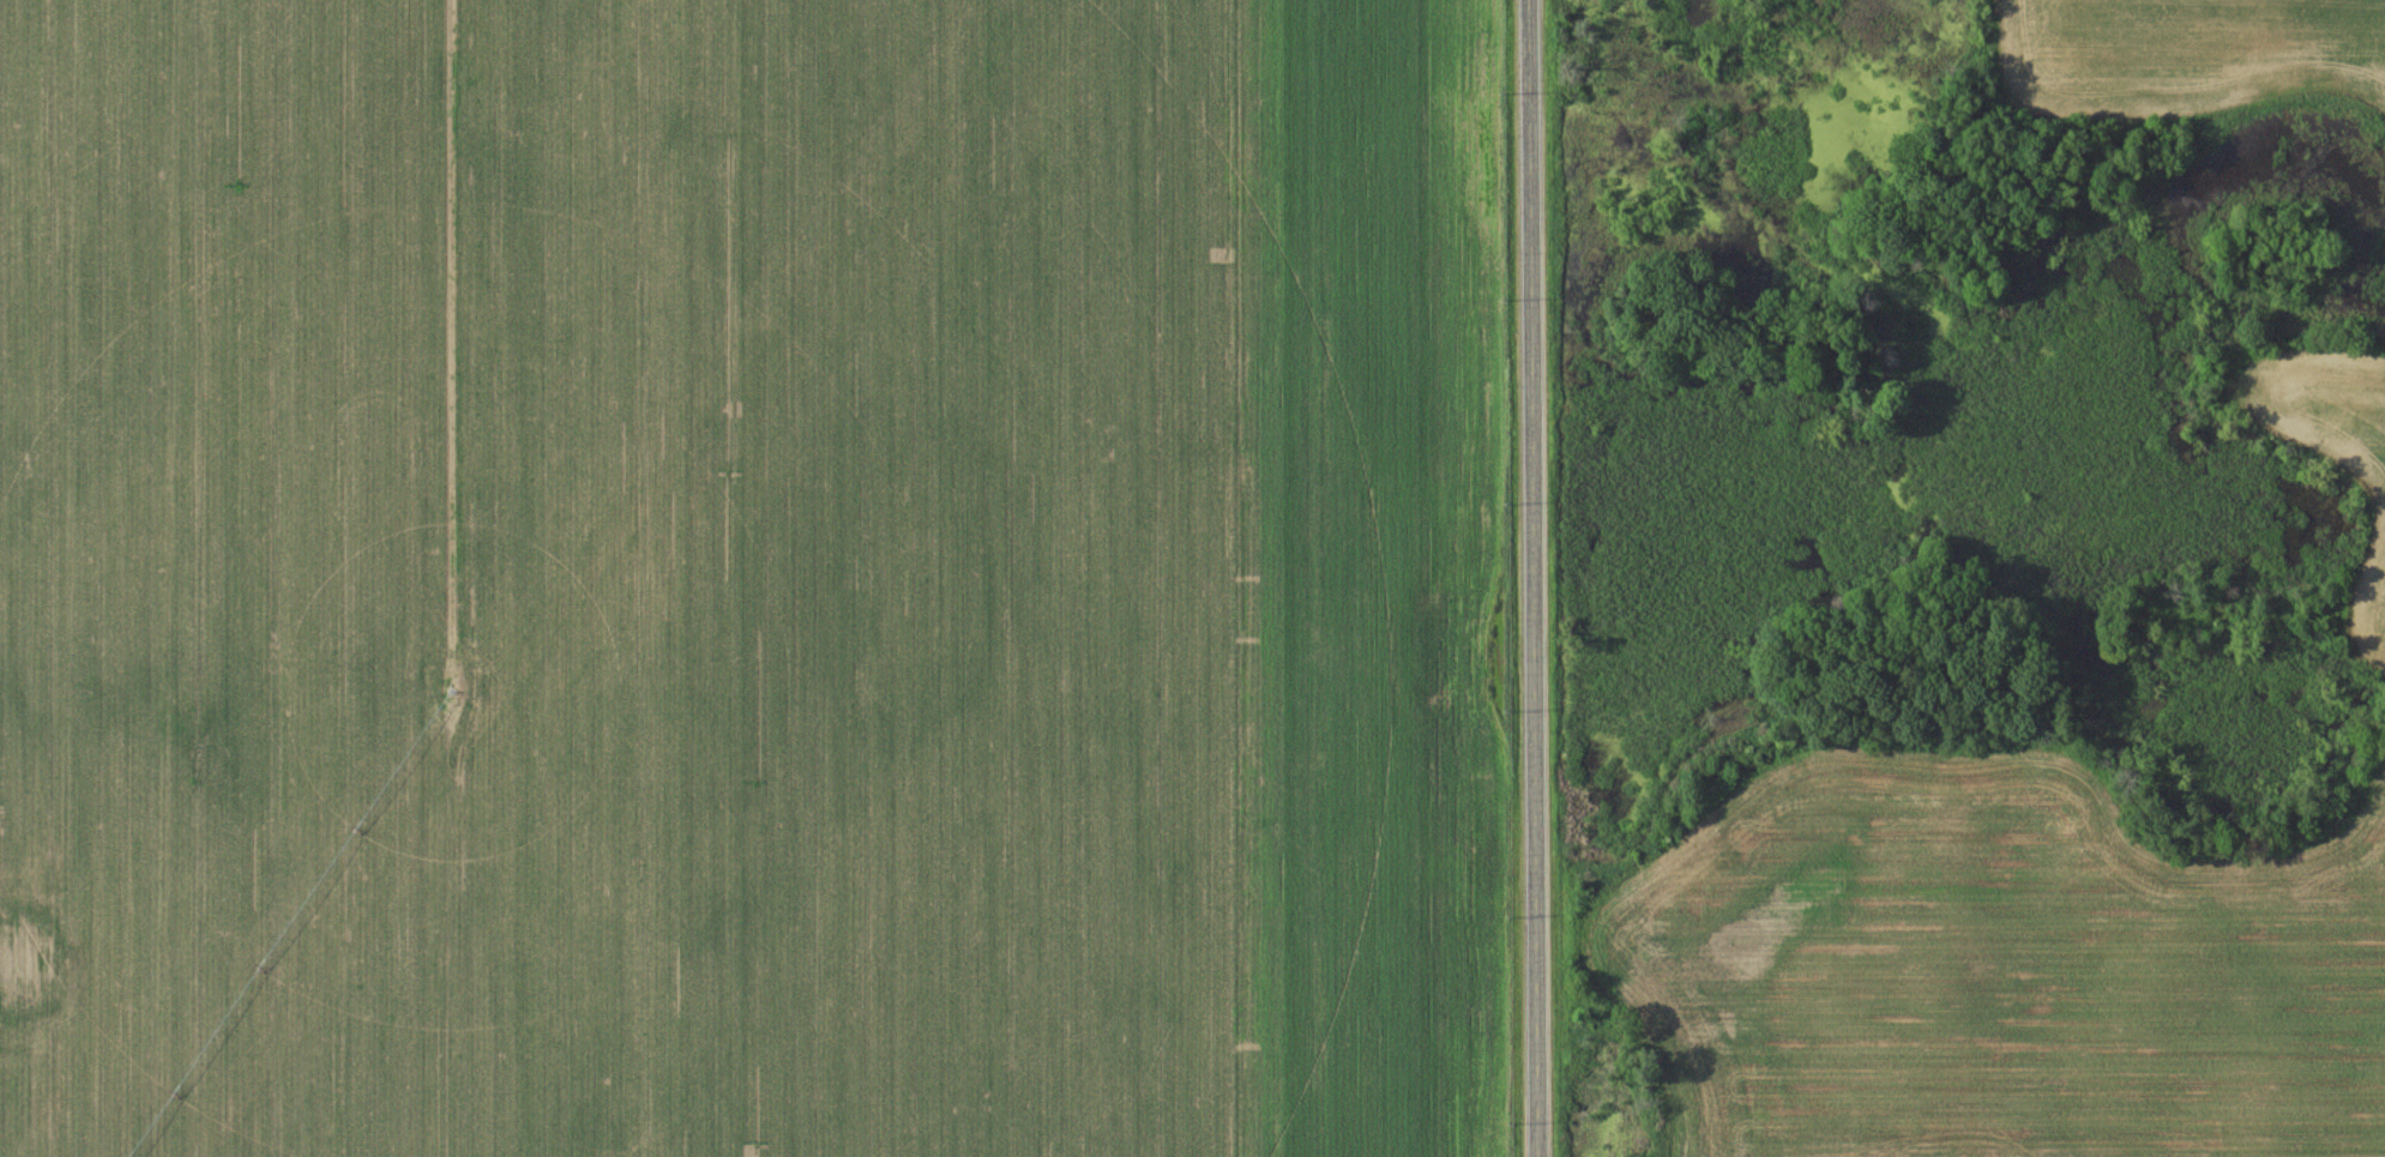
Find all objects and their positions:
road: (1536, 578)

